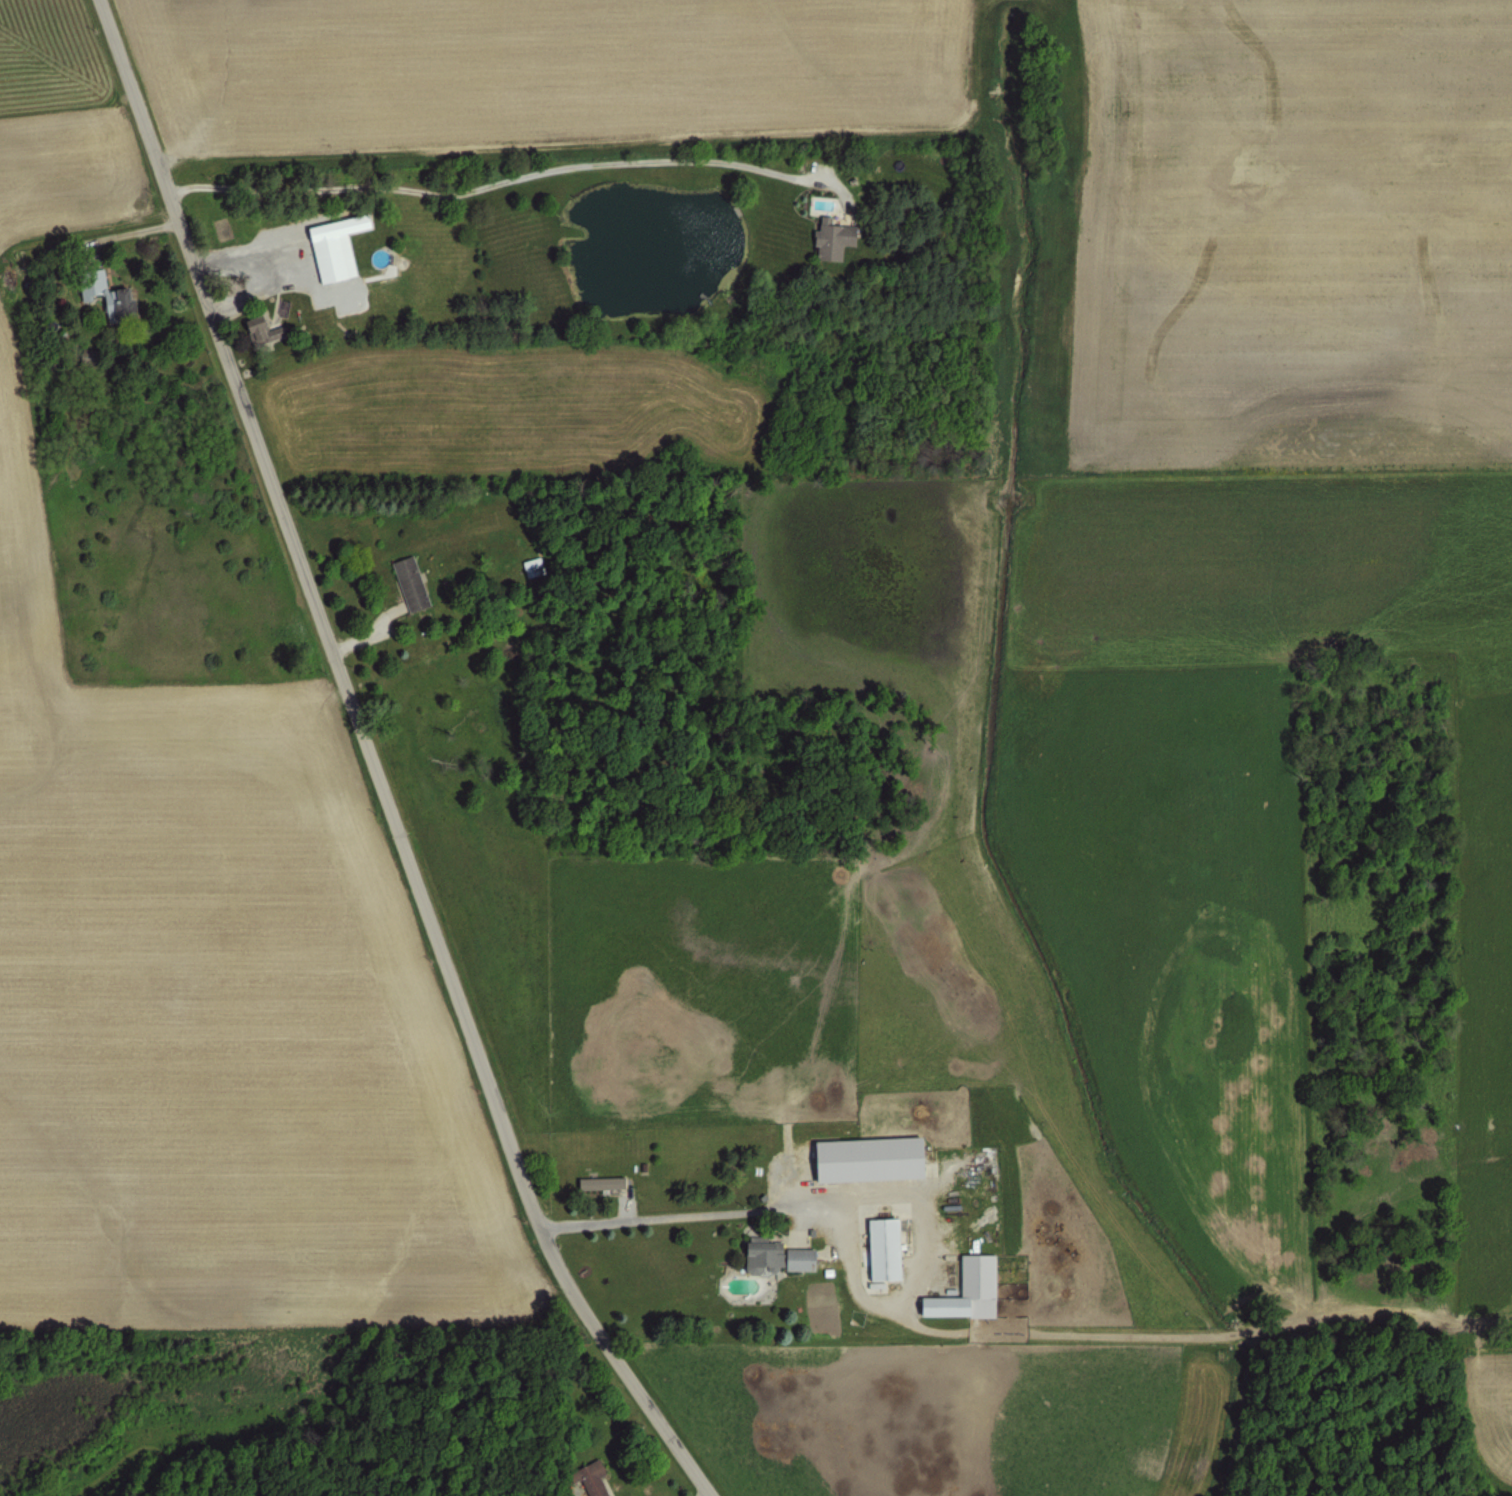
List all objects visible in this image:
road: (504, 180)
building: (826, 237)
building: (330, 245)
building: (101, 295)
building: (279, 306)
building: (256, 329)
building: (529, 565)
building: (406, 582)
road: (367, 627)
crop: (940, 686)
road: (377, 762)
crop: (210, 899)
building: (863, 1159)
building: (599, 1183)
road: (660, 1215)
building: (880, 1247)
building: (758, 1254)
building: (794, 1256)
building: (960, 1288)
building: (588, 1478)
road: (705, 1493)

